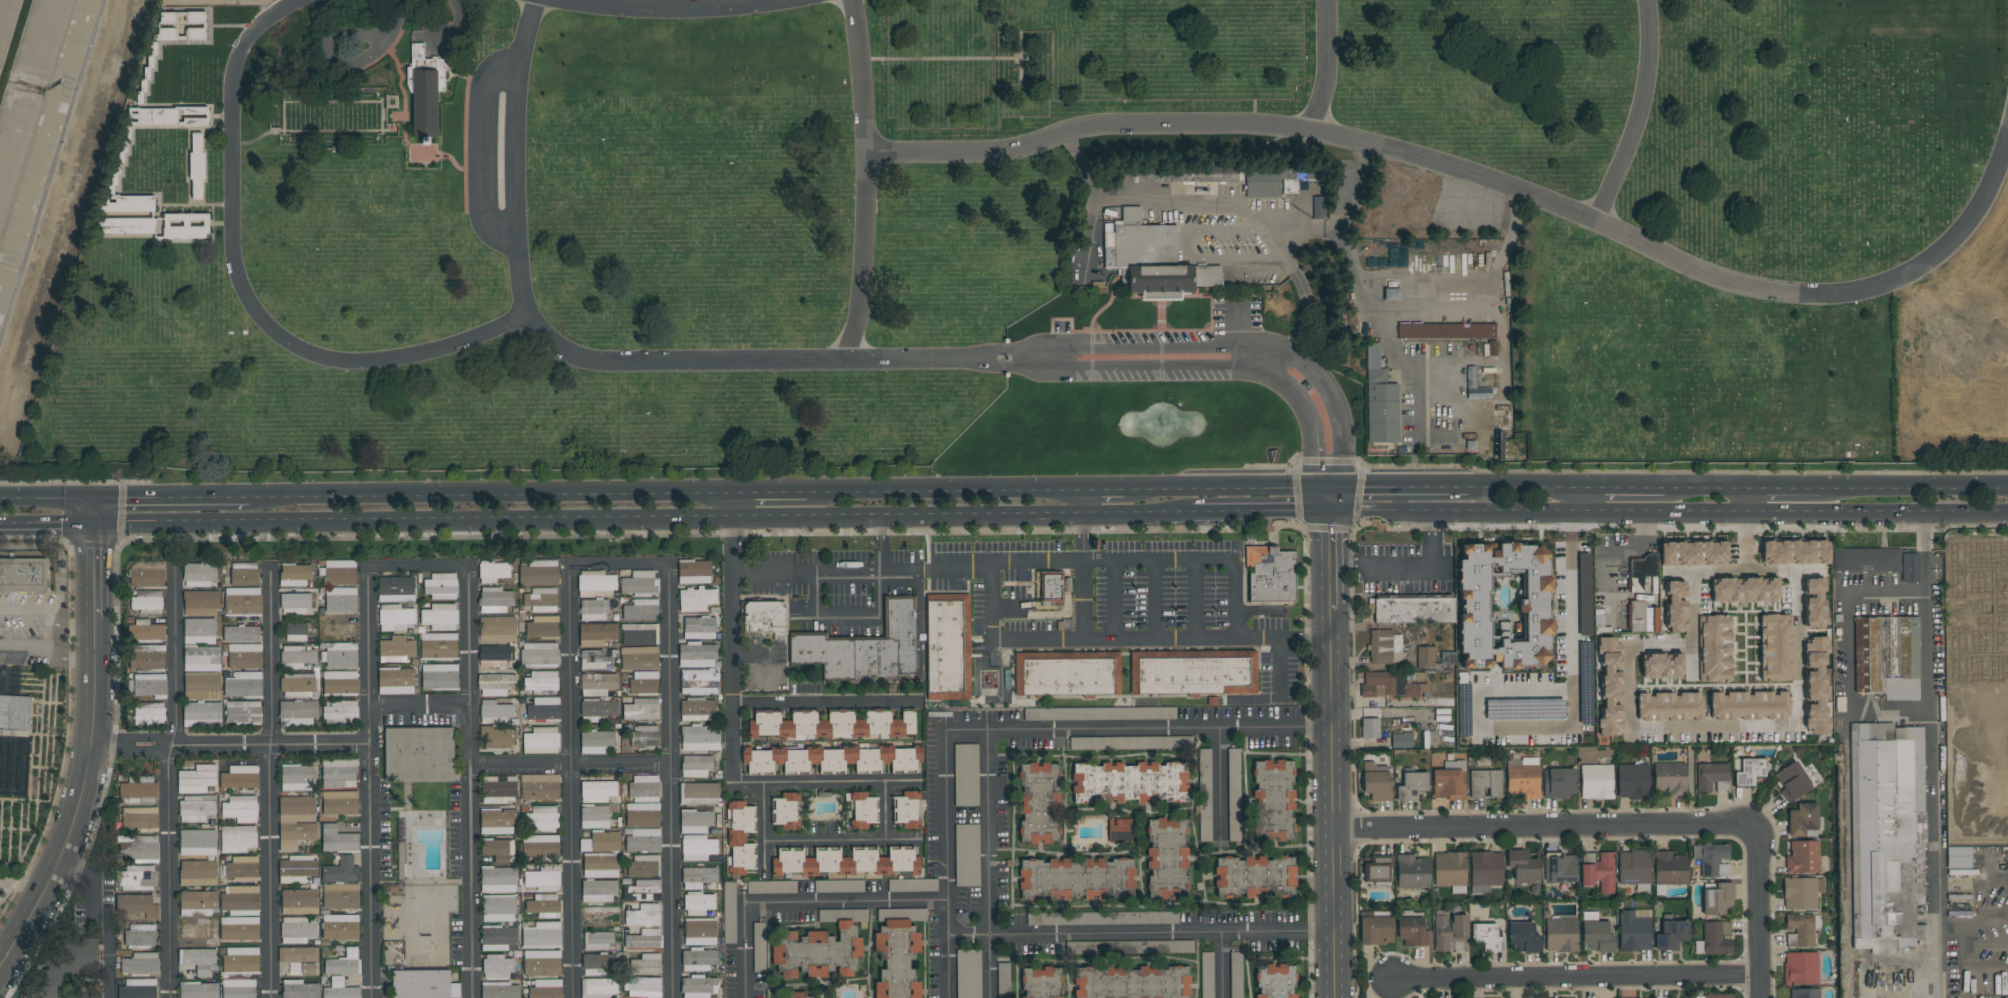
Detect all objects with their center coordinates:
road: (675, 7)
road: (395, 22)
road: (331, 51)
road: (1327, 65)
building: (427, 66)
building: (425, 104)
road: (1637, 115)
road: (482, 150)
building: (198, 165)
road: (1081, 167)
road: (52, 169)
building: (1197, 175)
road: (1478, 176)
road: (864, 181)
building: (1276, 181)
road: (1148, 201)
building: (151, 220)
road: (1181, 235)
building: (1148, 261)
building: (1215, 277)
road: (244, 289)
road: (1302, 311)
road: (1398, 311)
building: (1448, 331)
building: (1492, 348)
road: (734, 359)
building: (1475, 386)
building: (1380, 400)
road: (1321, 415)
fountain: (1164, 420)
road: (1397, 485)
road: (1526, 485)
road: (1625, 485)
road: (1741, 485)
road: (1847, 485)
road: (1942, 485)
road: (1227, 486)
traffic signals: (1328, 486)
road: (1104, 487)
road: (943, 489)
road: (770, 491)
road: (491, 494)
road: (171, 497)
road: (47, 498)
traffic signals: (94, 498)
road: (1585, 498)
road: (1328, 499)
road: (1750, 499)
road: (1081, 500)
road: (735, 505)
road: (94, 511)
road: (1259, 511)
traffic signals: (1328, 512)
road: (1667, 513)
road: (643, 519)
road: (47, 524)
traffic signals: (95, 524)
building: (1794, 552)
building: (1693, 553)
road: (1605, 554)
road: (57, 555)
road: (1328, 560)
building: (1866, 560)
road: (1407, 565)
parking lot: (1405, 568)
building: (1909, 568)
road: (863, 570)
building: (339, 572)
building: (492, 572)
building: (539, 572)
building: (694, 572)
building: (23, 574)
building: (146, 574)
building: (198, 574)
building: (243, 574)
building: (1270, 574)
building: (294, 575)
road: (1082, 576)
building: (639, 583)
building: (595, 584)
building: (440, 586)
building: (1052, 587)
building: (395, 589)
building: (1744, 590)
parking lot: (1050, 597)
building: (340, 600)
building: (495, 600)
building: (541, 600)
building: (697, 600)
road: (1117, 600)
road: (1154, 600)
road: (1194, 600)
building: (242, 601)
building: (147, 602)
building: (201, 603)
building: (294, 603)
building: (1814, 603)
road: (364, 606)
building: (1504, 606)
building: (1675, 606)
building: (593, 610)
building: (640, 610)
building: (1413, 610)
road: (50, 612)
road: (992, 615)
building: (1637, 616)
building: (395, 617)
building: (440, 617)
building: (763, 617)
road: (873, 619)
building: (339, 627)
building: (541, 627)
building: (698, 627)
building: (497, 629)
building: (149, 631)
building: (199, 631)
building: (296, 632)
building: (241, 634)
building: (597, 634)
building: (639, 634)
road: (1304, 636)
building: (438, 646)
building: (1385, 647)
building: (865, 648)
building: (948, 648)
building: (1714, 648)
building: (1775, 648)
building: (396, 649)
road: (1849, 649)
road: (25, 650)
road: (71, 651)
road: (737, 651)
building: (339, 655)
building: (539, 655)
building: (697, 655)
building: (244, 656)
building: (493, 656)
building: (147, 657)
road: (269, 657)
building: (296, 657)
building: (1886, 657)
building: (639, 658)
building: (1425, 658)
building: (201, 659)
building: (596, 659)
building: (1662, 666)
building: (1067, 673)
building: (1192, 673)
building: (439, 677)
building: (395, 681)
building: (643, 682)
building: (699, 682)
building: (340, 683)
building: (541, 683)
building: (597, 684)
building: (1393, 684)
building: (150, 685)
building: (243, 685)
building: (495, 685)
building: (1610, 685)
building: (202, 686)
building: (299, 686)
building: (1815, 686)
road: (829, 705)
building: (1749, 706)
building: (1669, 707)
building: (543, 709)
building: (597, 710)
building: (641, 710)
building: (697, 710)
road: (417, 711)
building: (242, 712)
building: (340, 712)
building: (495, 712)
building: (14, 713)
building: (149, 713)
building: (202, 713)
building: (297, 713)
building: (1105, 713)
building: (831, 725)
road: (1563, 727)
road: (1711, 727)
road: (1139, 728)
building: (1369, 728)
road: (568, 732)
building: (644, 736)
building: (499, 738)
building: (700, 738)
building: (541, 739)
building: (1401, 740)
road: (1928, 740)
building: (597, 741)
building: (1128, 743)
road: (92, 747)
road: (228, 747)
building: (418, 754)
building: (831, 759)
building: (695, 766)
road: (569, 769)
building: (1749, 772)
building: (338, 773)
building: (965, 775)
building: (297, 777)
building: (1712, 777)
building: (240, 778)
building: (1522, 778)
building: (1669, 778)
building: (196, 779)
road: (1218, 781)
building: (1375, 781)
building: (1449, 781)
building: (1596, 781)
building: (1632, 781)
road: (170, 782)
road: (827, 782)
building: (1792, 782)
road: (470, 783)
road: (669, 783)
building: (1128, 783)
building: (1204, 783)
building: (1558, 783)
building: (1485, 784)
building: (1411, 786)
building: (539, 787)
building: (644, 788)
building: (597, 791)
building: (138, 793)
building: (698, 793)
building: (1274, 800)
building: (339, 803)
road: (1333, 803)
building: (197, 809)
building: (240, 809)
building: (297, 809)
building: (863, 810)
building: (907, 810)
building: (785, 811)
road: (884, 812)
building: (642, 815)
building: (594, 817)
building: (139, 818)
building: (544, 818)
building: (1802, 820)
building: (497, 821)
building: (695, 821)
road: (1540, 824)
road: (762, 828)
building: (1118, 830)
building: (295, 835)
building: (1887, 835)
building: (237, 839)
building: (338, 840)
building: (643, 840)
building: (197, 842)
building: (601, 842)
road: (839, 843)
building: (540, 847)
building: (697, 847)
building: (144, 849)
building: (497, 849)
building: (1166, 854)
building: (966, 855)
building: (1802, 857)
building: (1958, 857)
building: (1711, 860)
building: (844, 862)
road: (946, 862)
road: (991, 862)
building: (600, 865)
building: (1524, 865)
building: (642, 866)
building: (1560, 868)
building: (1634, 868)
building: (1669, 868)
building: (242, 869)
building: (297, 869)
building: (1377, 870)
building: (1486, 870)
building: (340, 871)
road: (367, 871)
building: (1450, 871)
building: (1598, 871)
road: (270, 872)
building: (1411, 872)
building: (197, 873)
building: (138, 877)
building: (1255, 877)
building: (543, 878)
building: (498, 879)
road: (13, 884)
building: (912, 885)
building: (838, 886)
building: (771, 887)
building: (642, 890)
building: (697, 890)
building: (598, 891)
building: (1801, 893)
building: (340, 896)
building: (240, 900)
building: (1718, 900)
building: (196, 902)
building: (298, 902)
road: (846, 902)
building: (136, 905)
building: (543, 906)
building: (498, 908)
road: (1757, 911)
building: (729, 913)
road: (101, 914)
building: (599, 915)
building: (643, 915)
building: (1144, 917)
building: (1064, 918)
building: (340, 927)
building: (239, 929)
building: (1801, 929)
building: (296, 930)
building: (1375, 930)
building: (1634, 930)
building: (699, 931)
building: (1412, 931)
building: (195, 932)
road: (1140, 932)
building: (1449, 933)
building: (1560, 934)
building: (140, 935)
building: (541, 935)
building: (1671, 935)
building: (1486, 937)
building: (1596, 937)
building: (498, 938)
building: (1522, 938)
building: (1716, 938)
building: (643, 939)
building: (598, 940)
building: (758, 940)
road: (2, 941)
building: (1133, 947)
road: (746, 950)
building: (898, 951)
building: (698, 959)
building: (198, 960)
building: (240, 960)
building: (299, 960)
building: (343, 963)
building: (541, 963)
building: (140, 964)
building: (65, 965)
building: (596, 965)
building: (645, 965)
road: (1222, 965)
building: (496, 966)
building: (1800, 968)
building: (968, 974)
building: (1235, 974)
building: (1206, 975)
road: (1576, 977)
building: (1003, 980)
building: (1275, 981)
building: (1040, 982)
building: (1132, 982)
building: (424, 984)
building: (697, 987)
building: (138, 988)
building: (238, 988)
building: (598, 988)
building: (298, 989)
building: (545, 989)
building: (198, 990)
building: (340, 990)
building: (499, 990)
building: (85, 993)
building: (1804, 993)
building: (789, 995)
building: (1713, 996)

